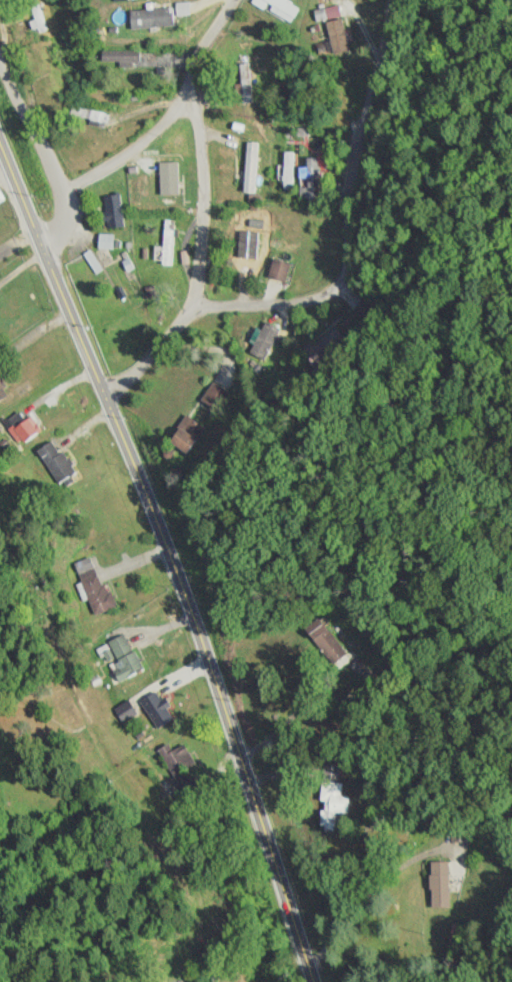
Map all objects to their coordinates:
building: (278, 8)
building: (147, 20)
building: (334, 29)
building: (119, 57)
building: (58, 62)
building: (243, 84)
building: (87, 116)
road: (166, 116)
road: (46, 153)
building: (250, 169)
building: (288, 171)
building: (168, 176)
building: (311, 181)
building: (113, 211)
building: (251, 239)
building: (168, 242)
building: (278, 270)
road: (338, 275)
building: (267, 341)
building: (2, 391)
building: (214, 395)
building: (24, 428)
building: (186, 434)
building: (55, 460)
road: (167, 557)
building: (94, 584)
building: (326, 641)
building: (125, 655)
building: (157, 709)
building: (178, 760)
building: (336, 773)
building: (336, 801)
building: (53, 853)
building: (439, 885)

